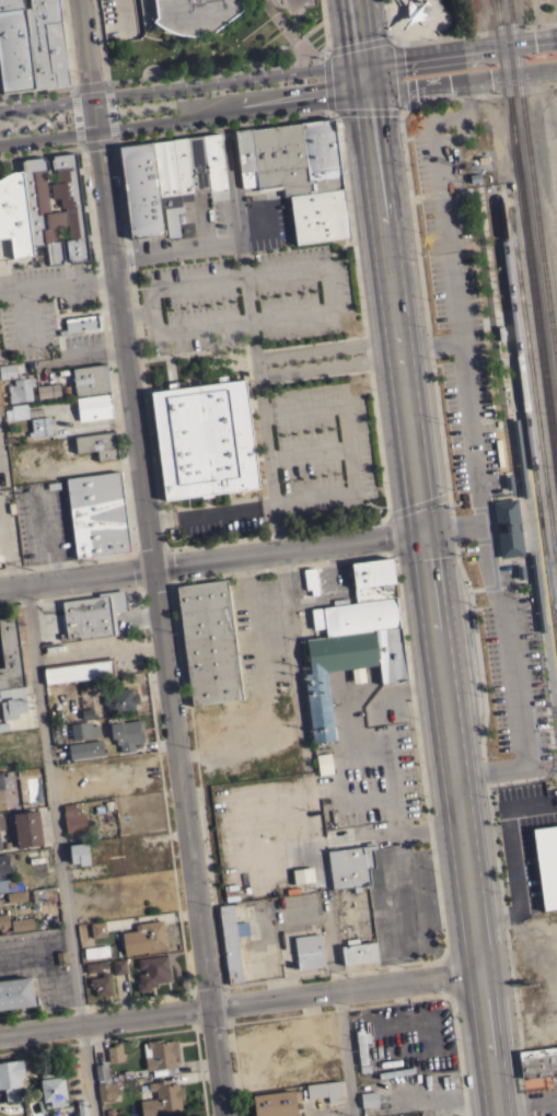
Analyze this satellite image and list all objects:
railway: (518, 7)
railway: (507, 8)
building: (194, 15)
road: (323, 26)
road: (357, 33)
road: (454, 34)
road: (421, 35)
building: (47, 44)
building: (14, 48)
road: (460, 54)
railway: (524, 56)
railway: (513, 57)
traffic signals: (362, 66)
road: (214, 67)
road: (363, 79)
road: (461, 79)
road: (89, 85)
road: (181, 85)
road: (397, 86)
road: (36, 91)
traffic signals: (365, 92)
road: (477, 93)
road: (109, 109)
road: (76, 114)
road: (182, 116)
parking lot: (33, 120)
road: (222, 124)
road: (97, 140)
road: (39, 148)
building: (243, 154)
building: (295, 154)
building: (213, 158)
building: (196, 160)
building: (172, 177)
railway: (533, 184)
building: (140, 186)
road: (233, 188)
road: (443, 190)
building: (37, 206)
railway: (543, 208)
building: (14, 211)
building: (317, 213)
railway: (526, 234)
railway: (537, 252)
road: (123, 258)
road: (57, 282)
road: (333, 307)
parking lot: (31, 310)
road: (360, 311)
road: (136, 314)
road: (247, 319)
building: (82, 323)
building: (499, 329)
road: (313, 339)
railway: (495, 342)
road: (430, 344)
road: (195, 350)
road: (327, 356)
parking lot: (279, 359)
road: (170, 367)
road: (313, 375)
building: (91, 379)
building: (16, 383)
railway: (532, 384)
building: (47, 388)
building: (48, 395)
building: (94, 407)
building: (0, 409)
building: (16, 411)
railway: (526, 418)
parking lot: (474, 425)
building: (40, 426)
building: (202, 435)
building: (98, 444)
road: (473, 444)
road: (310, 453)
building: (519, 458)
building: (508, 478)
road: (352, 491)
road: (484, 497)
road: (398, 509)
road: (490, 509)
road: (527, 511)
building: (97, 514)
parking lot: (31, 519)
road: (161, 519)
road: (452, 524)
building: (507, 524)
road: (278, 526)
traffic signals: (422, 530)
road: (151, 557)
road: (510, 557)
road: (211, 558)
building: (522, 570)
building: (310, 580)
building: (372, 580)
building: (536, 593)
road: (431, 604)
road: (471, 612)
building: (92, 615)
building: (356, 616)
building: (208, 642)
building: (10, 653)
road: (294, 654)
building: (347, 669)
building: (79, 670)
building: (119, 700)
building: (12, 702)
building: (84, 730)
building: (127, 733)
building: (85, 748)
building: (323, 758)
building: (324, 767)
building: (1, 786)
building: (73, 819)
building: (1, 822)
building: (27, 828)
building: (0, 847)
road: (58, 849)
building: (79, 852)
building: (3, 863)
building: (546, 863)
building: (355, 867)
building: (302, 874)
building: (10, 884)
building: (231, 892)
building: (43, 894)
building: (15, 896)
building: (3, 920)
building: (22, 923)
building: (97, 929)
building: (152, 933)
building: (232, 941)
building: (309, 951)
building: (358, 951)
road: (332, 952)
building: (104, 957)
building: (93, 966)
building: (118, 966)
building: (152, 972)
building: (101, 985)
building: (16, 992)
road: (239, 1001)
building: (361, 1045)
building: (114, 1053)
road: (345, 1053)
building: (537, 1053)
building: (160, 1054)
building: (537, 1067)
building: (11, 1078)
building: (104, 1082)
building: (53, 1089)
building: (324, 1090)
building: (161, 1097)
building: (369, 1100)
building: (276, 1103)
building: (81, 1108)

